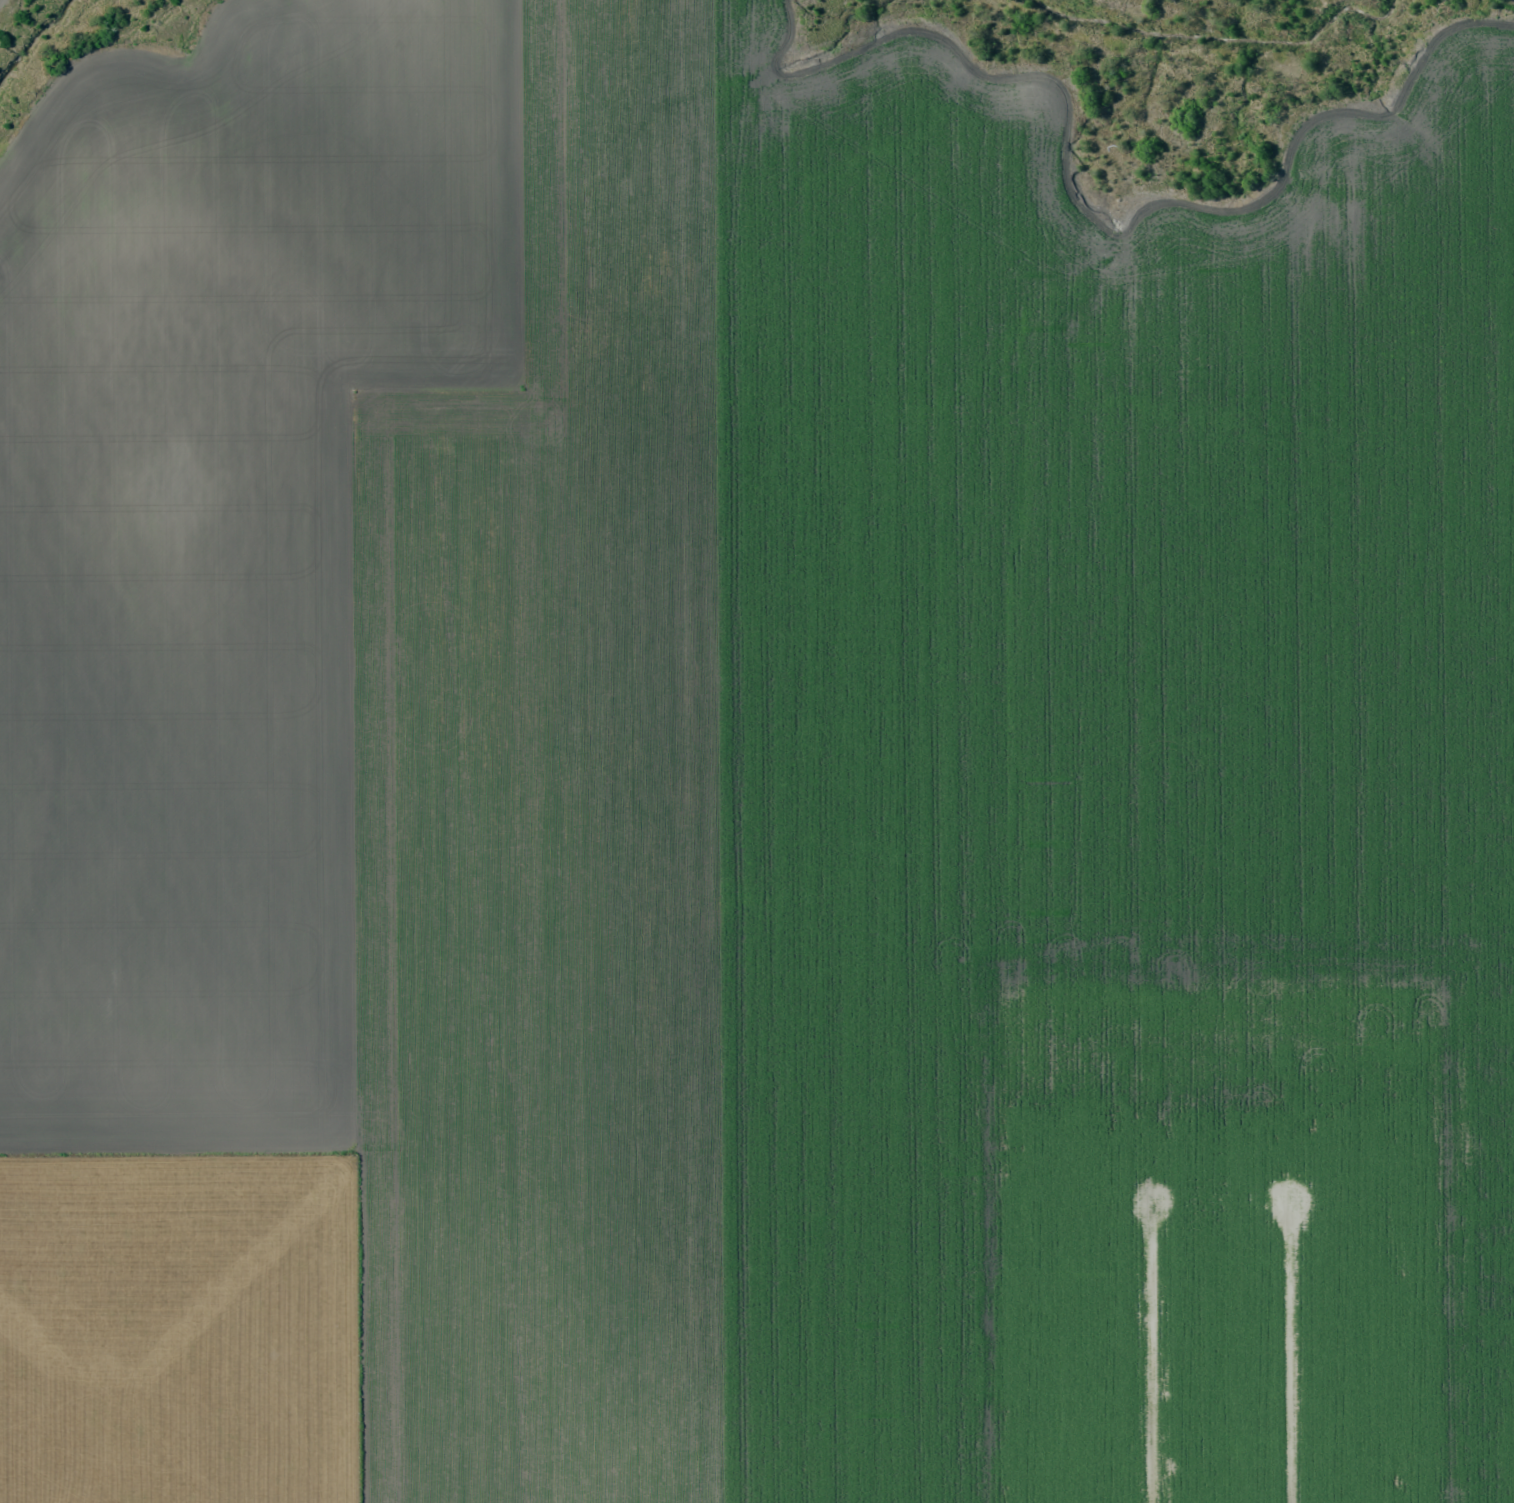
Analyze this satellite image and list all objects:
building: (1152, 1207)

